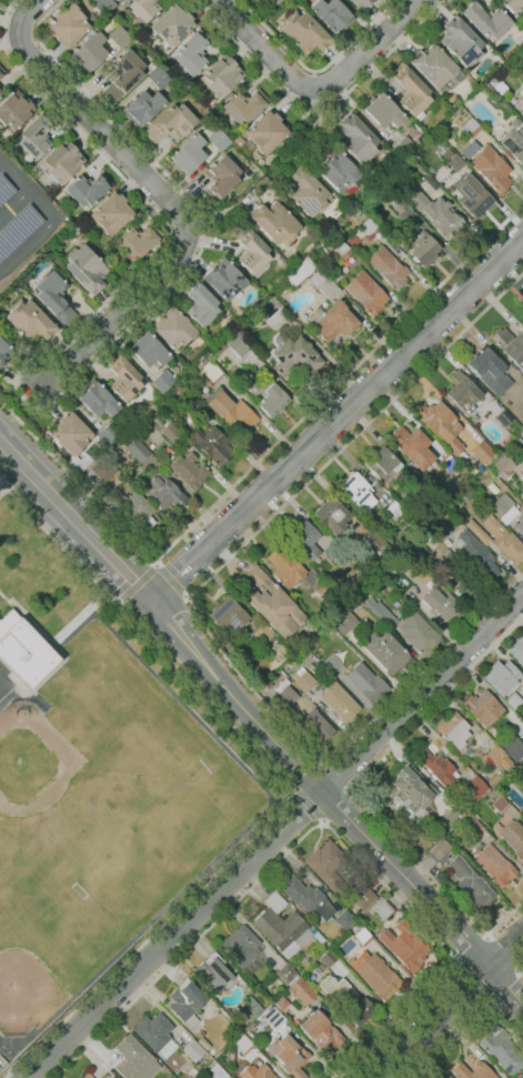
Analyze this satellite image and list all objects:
building: (274, 1)
building: (362, 3)
building: (512, 4)
building: (103, 6)
building: (143, 9)
building: (332, 14)
building: (485, 19)
building: (172, 23)
building: (68, 24)
building: (304, 32)
building: (120, 37)
building: (461, 41)
building: (89, 51)
building: (191, 52)
building: (433, 66)
building: (1, 70)
road: (315, 70)
building: (0, 74)
building: (123, 74)
building: (221, 75)
building: (158, 77)
building: (447, 83)
building: (496, 84)
road: (318, 89)
building: (411, 90)
building: (0, 91)
road: (316, 103)
building: (243, 105)
building: (141, 108)
building: (14, 110)
building: (383, 111)
building: (521, 111)
building: (170, 122)
building: (471, 128)
building: (266, 131)
building: (36, 135)
building: (356, 138)
building: (218, 139)
building: (514, 141)
building: (248, 148)
building: (404, 149)
building: (188, 153)
building: (62, 161)
building: (456, 162)
road: (2, 168)
building: (492, 168)
building: (336, 171)
building: (370, 172)
road: (14, 177)
building: (221, 178)
building: (433, 180)
building: (88, 189)
building: (4, 192)
building: (305, 192)
road: (162, 195)
building: (473, 199)
building: (396, 204)
road: (14, 205)
building: (112, 213)
building: (442, 219)
parking lot: (22, 220)
building: (274, 222)
building: (366, 223)
building: (73, 229)
building: (18, 230)
road: (41, 233)
building: (137, 241)
building: (353, 241)
building: (422, 249)
building: (342, 250)
building: (251, 251)
building: (388, 268)
building: (86, 269)
building: (300, 272)
building: (224, 279)
building: (16, 288)
building: (366, 293)
building: (53, 296)
building: (200, 303)
building: (0, 309)
building: (268, 309)
building: (331, 309)
building: (239, 311)
building: (29, 321)
building: (174, 330)
building: (510, 345)
building: (148, 350)
building: (3, 351)
building: (212, 353)
building: (292, 354)
building: (489, 371)
building: (123, 377)
building: (162, 381)
building: (463, 393)
building: (148, 394)
building: (522, 395)
building: (97, 399)
building: (272, 399)
road: (37, 405)
building: (193, 405)
road: (20, 410)
building: (233, 414)
road: (336, 417)
building: (503, 417)
building: (441, 424)
building: (171, 432)
building: (109, 433)
building: (70, 434)
building: (141, 436)
building: (212, 444)
building: (412, 446)
building: (138, 450)
building: (481, 452)
building: (117, 454)
road: (258, 460)
building: (379, 461)
building: (450, 464)
building: (503, 466)
building: (189, 470)
road: (2, 490)
building: (356, 491)
building: (164, 492)
building: (521, 495)
building: (121, 500)
building: (501, 505)
building: (393, 510)
building: (332, 515)
building: (520, 523)
building: (441, 531)
building: (477, 532)
building: (304, 540)
building: (504, 540)
building: (372, 542)
building: (439, 545)
building: (398, 546)
building: (420, 550)
building: (476, 553)
building: (341, 556)
building: (409, 558)
road: (154, 564)
building: (449, 565)
building: (285, 566)
road: (169, 578)
building: (442, 580)
road: (135, 585)
building: (323, 591)
road: (185, 595)
building: (270, 601)
building: (443, 604)
road: (195, 609)
road: (163, 614)
building: (229, 614)
building: (382, 615)
building: (343, 622)
building: (363, 624)
building: (330, 633)
building: (419, 633)
building: (262, 634)
building: (314, 639)
road: (54, 642)
building: (517, 649)
building: (23, 651)
building: (384, 652)
building: (333, 665)
building: (279, 673)
building: (501, 676)
building: (366, 683)
building: (294, 687)
building: (513, 701)
building: (338, 702)
building: (483, 707)
building: (316, 725)
building: (456, 733)
building: (512, 746)
building: (318, 749)
building: (497, 757)
building: (437, 767)
building: (520, 775)
road: (284, 783)
building: (474, 787)
road: (291, 790)
road: (349, 792)
building: (411, 794)
road: (306, 804)
building: (500, 804)
building: (453, 817)
road: (321, 820)
park: (46, 823)
road: (318, 825)
building: (474, 828)
park: (129, 834)
road: (275, 835)
building: (511, 836)
building: (440, 847)
building: (326, 865)
building: (493, 865)
building: (470, 883)
park: (3, 896)
building: (305, 897)
building: (363, 897)
road: (423, 897)
building: (383, 908)
building: (344, 919)
building: (283, 927)
park: (48, 935)
building: (362, 937)
building: (404, 946)
building: (242, 948)
road: (471, 949)
road: (503, 954)
building: (326, 958)
road: (520, 973)
building: (285, 974)
building: (374, 974)
building: (212, 975)
road: (473, 984)
building: (301, 991)
road: (510, 995)
building: (346, 998)
building: (185, 1004)
building: (281, 1004)
building: (252, 1006)
road: (450, 1007)
building: (273, 1017)
road: (469, 1022)
building: (235, 1031)
building: (321, 1031)
building: (155, 1035)
building: (203, 1042)
building: (243, 1045)
building: (192, 1050)
building: (502, 1051)
building: (289, 1056)
building: (135, 1059)
building: (192, 1071)
building: (255, 1071)
building: (472, 1071)
building: (214, 1072)
building: (87, 1076)
building: (521, 1076)
building: (110, 1077)

